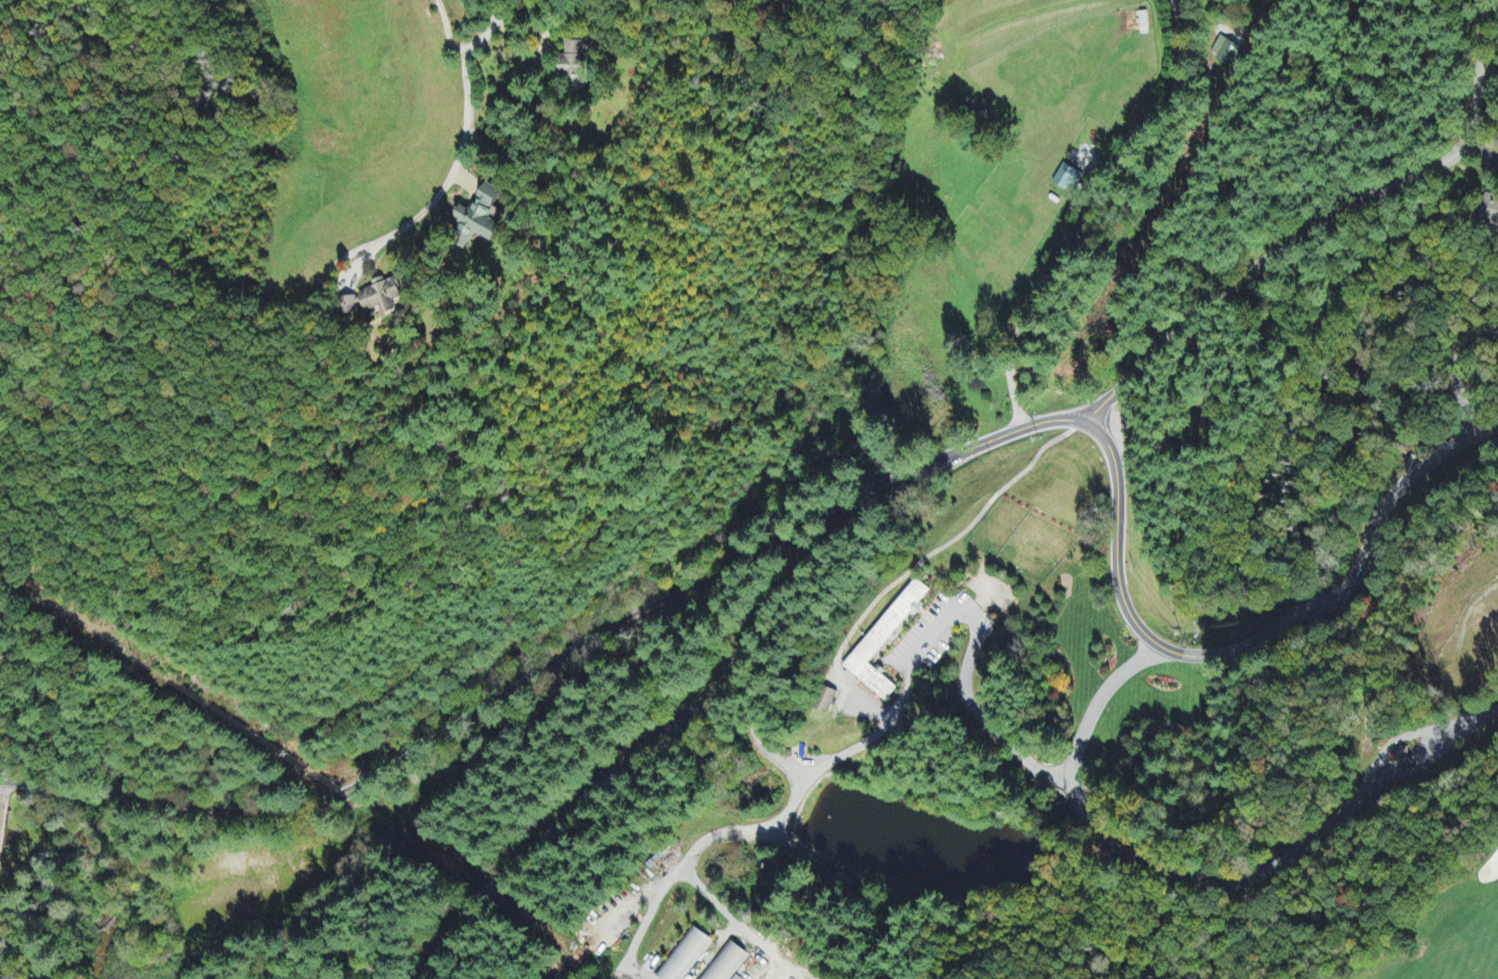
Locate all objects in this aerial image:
building: (1225, 52)
building: (574, 65)
road: (1481, 152)
road: (478, 170)
building: (1490, 211)
building: (478, 218)
road: (1326, 228)
road: (1082, 238)
road: (340, 298)
building: (373, 298)
road: (1459, 374)
road: (792, 594)
building: (884, 641)
road: (1250, 643)
road: (553, 664)
building: (825, 701)
road: (895, 709)
road: (976, 714)
road: (627, 769)
road: (2, 798)
road: (750, 828)
road: (1202, 882)
road: (736, 918)
road: (644, 920)
park: (1451, 932)
building: (685, 956)
building: (726, 963)

